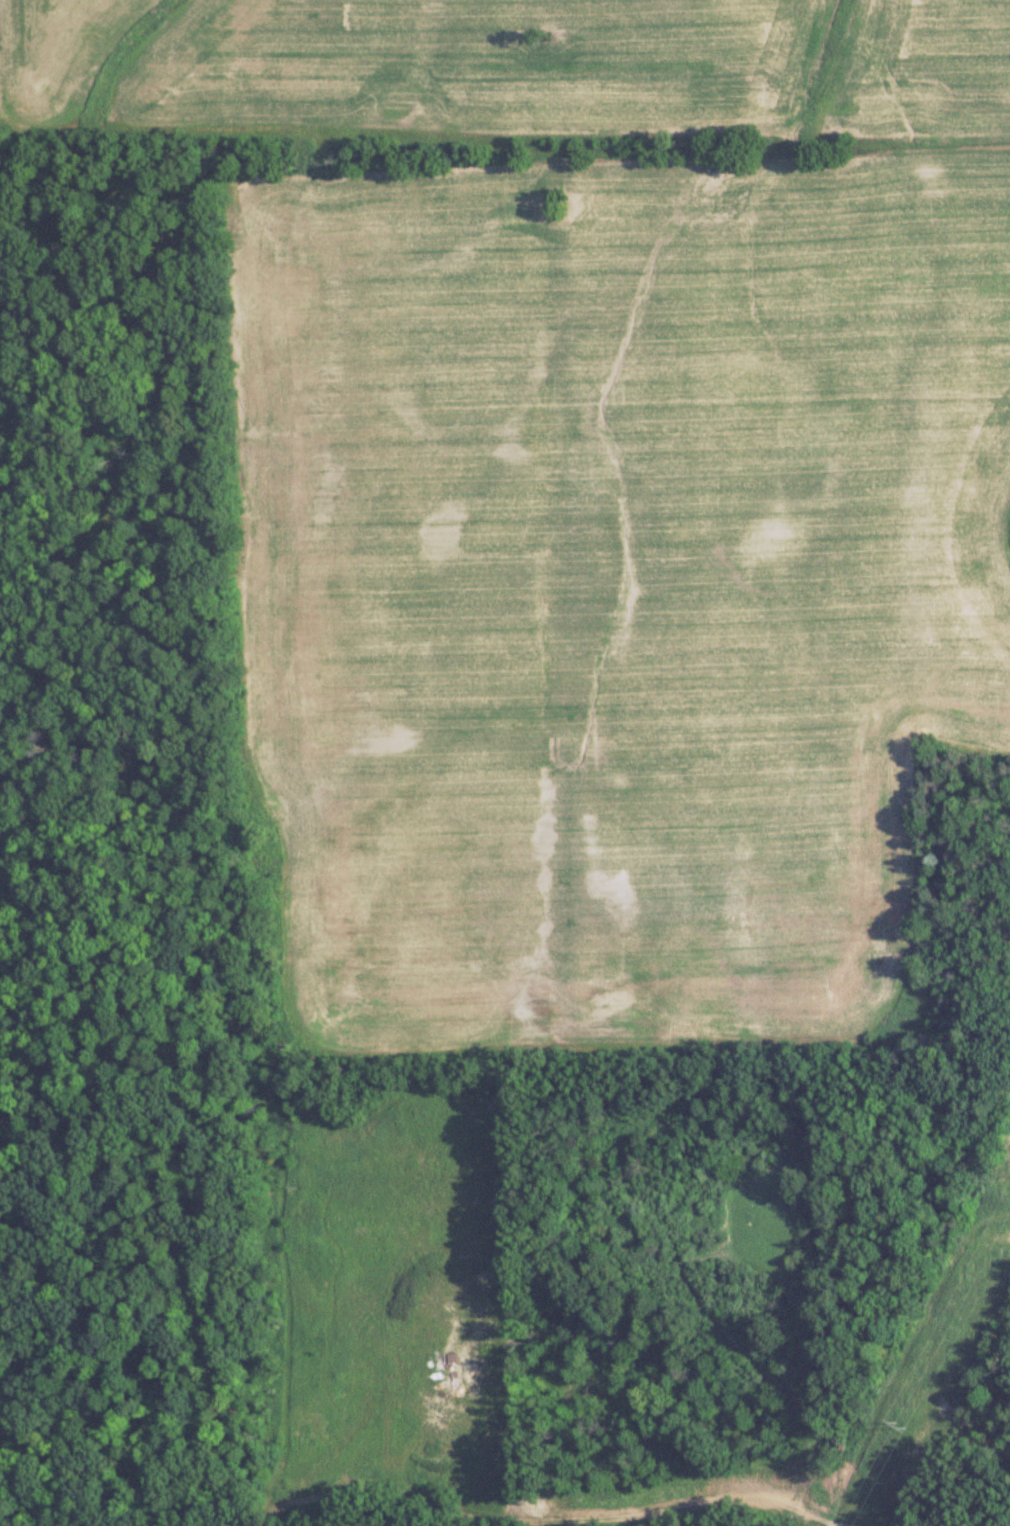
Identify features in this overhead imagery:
power tower: (902, 1415)

